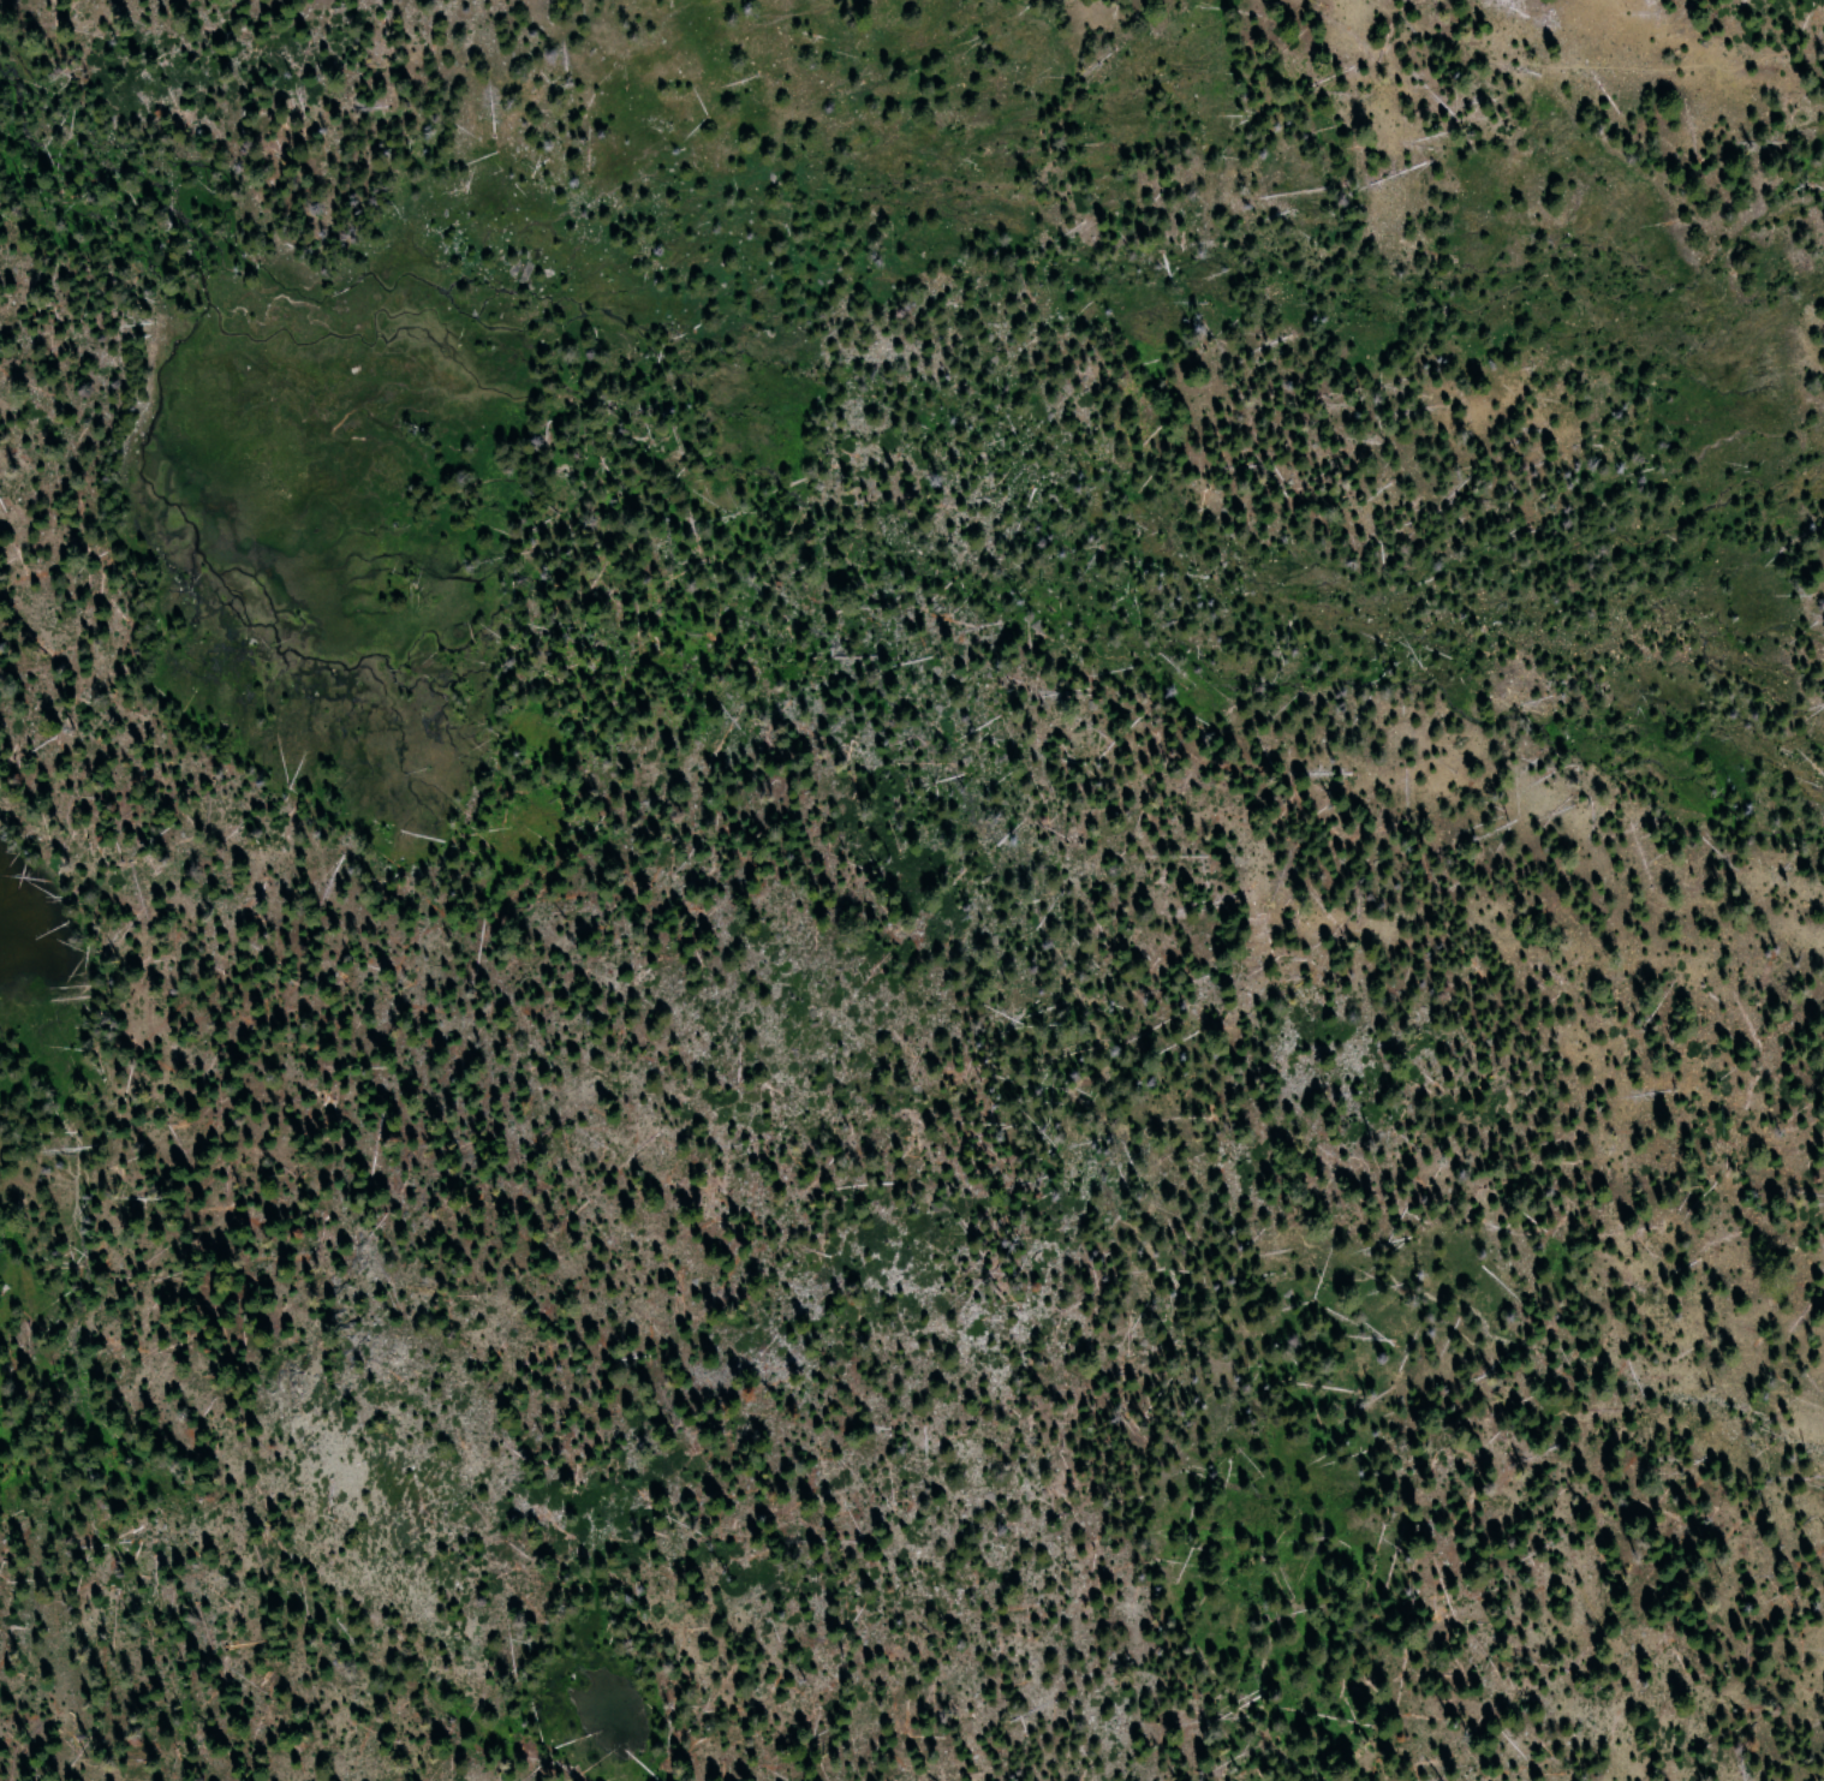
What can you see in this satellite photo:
road: (1590, 60)

